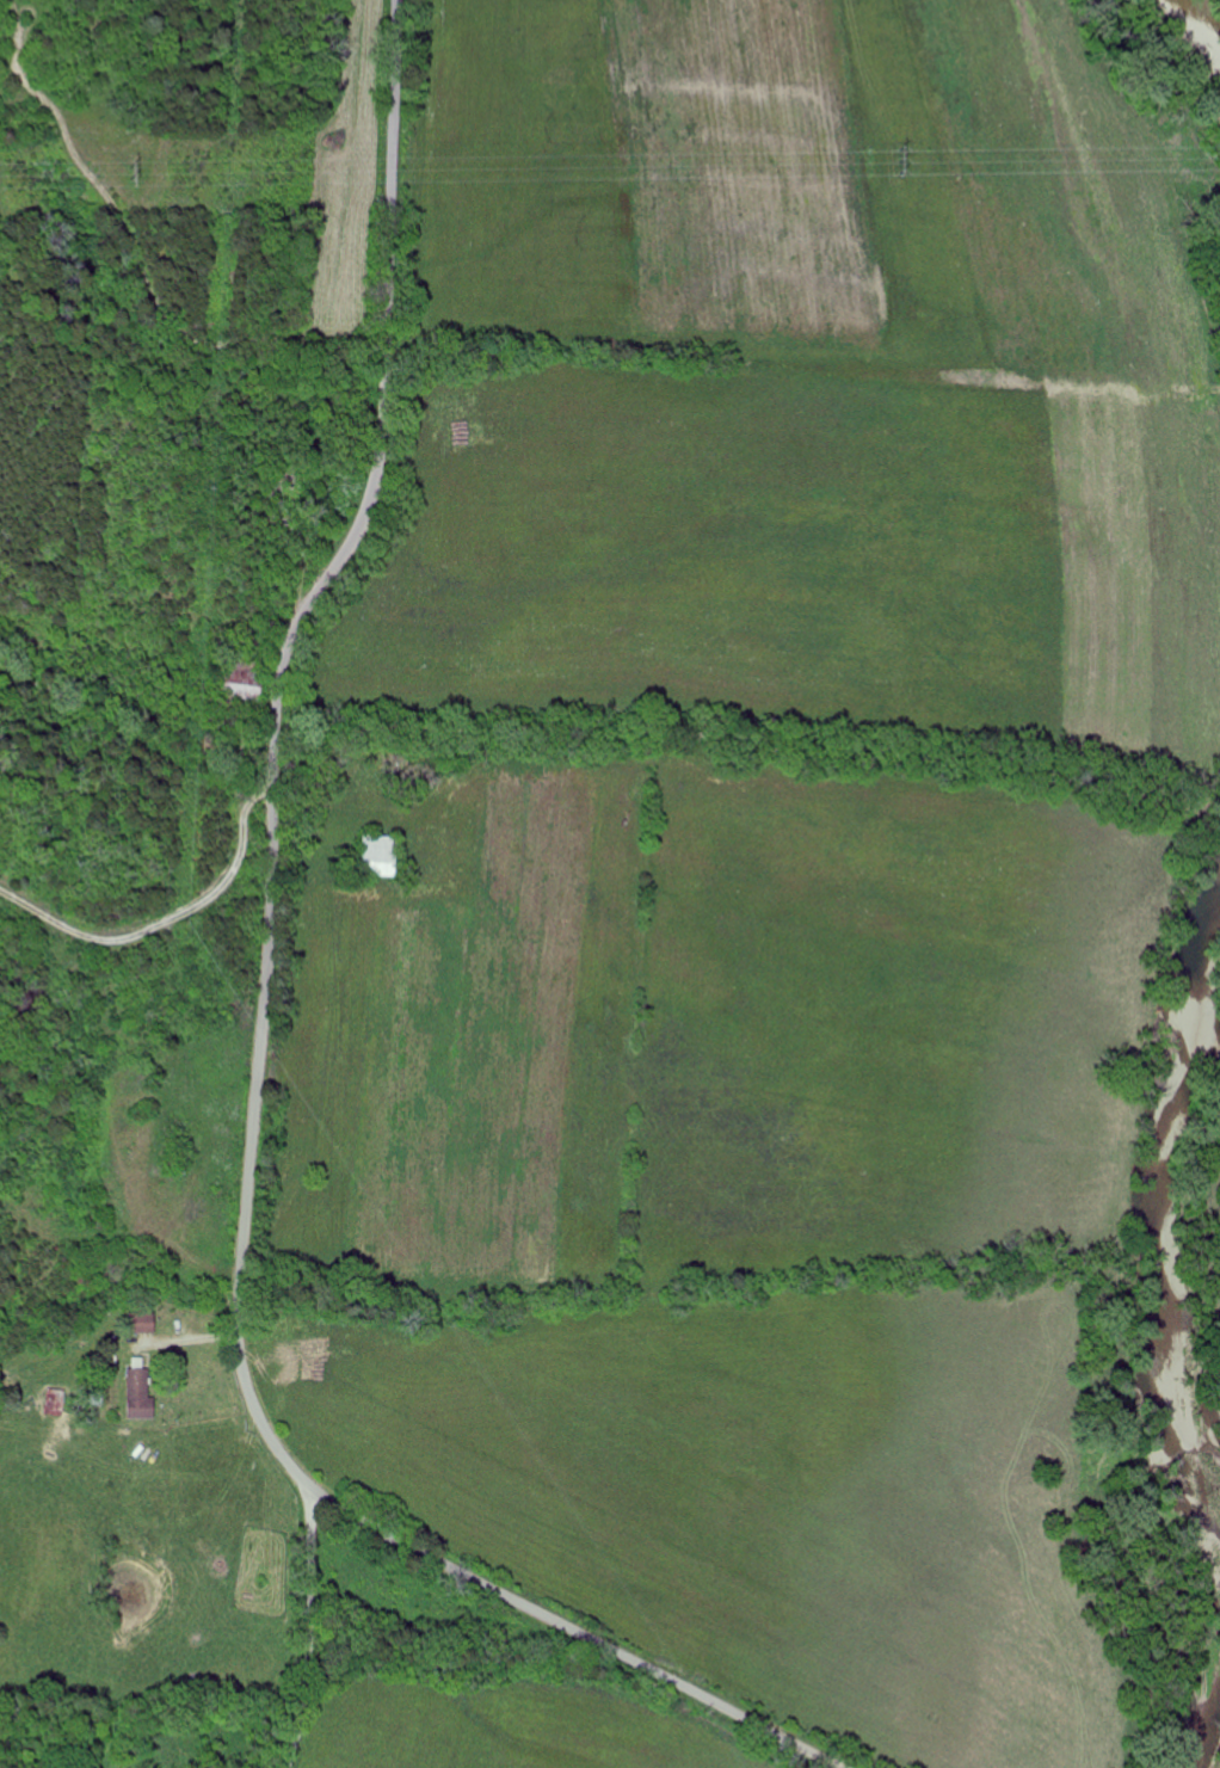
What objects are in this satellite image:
power tower: (898, 160)
power tower: (136, 172)
road: (142, 934)
road: (261, 1037)
building: (142, 1323)
building: (142, 1397)
building: (57, 1403)
road: (309, 1625)

